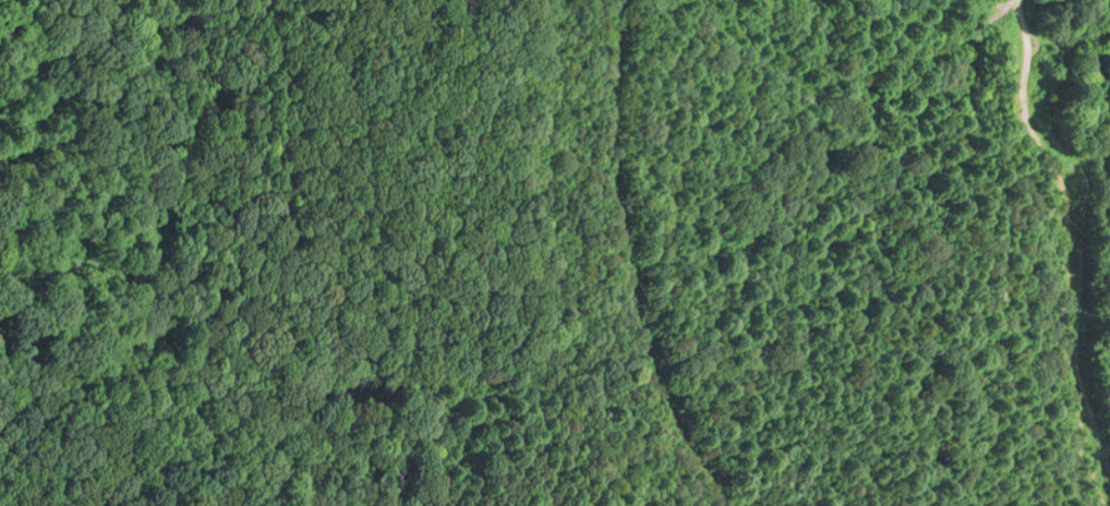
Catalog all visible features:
road: (619, 269)

